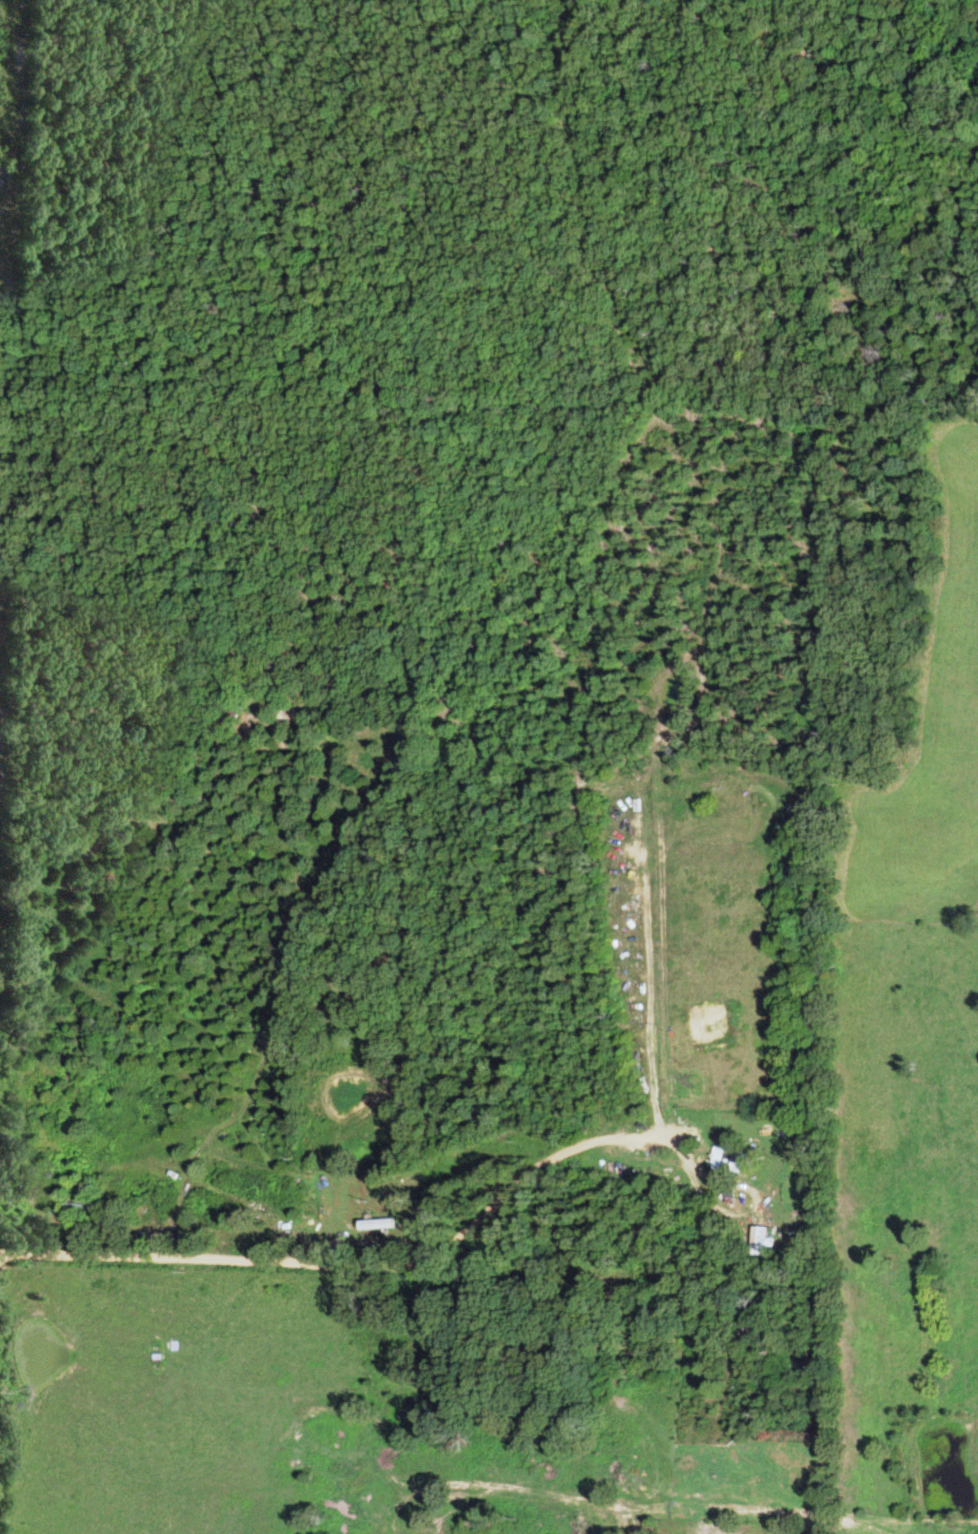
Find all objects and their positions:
building: (735, 1159)

